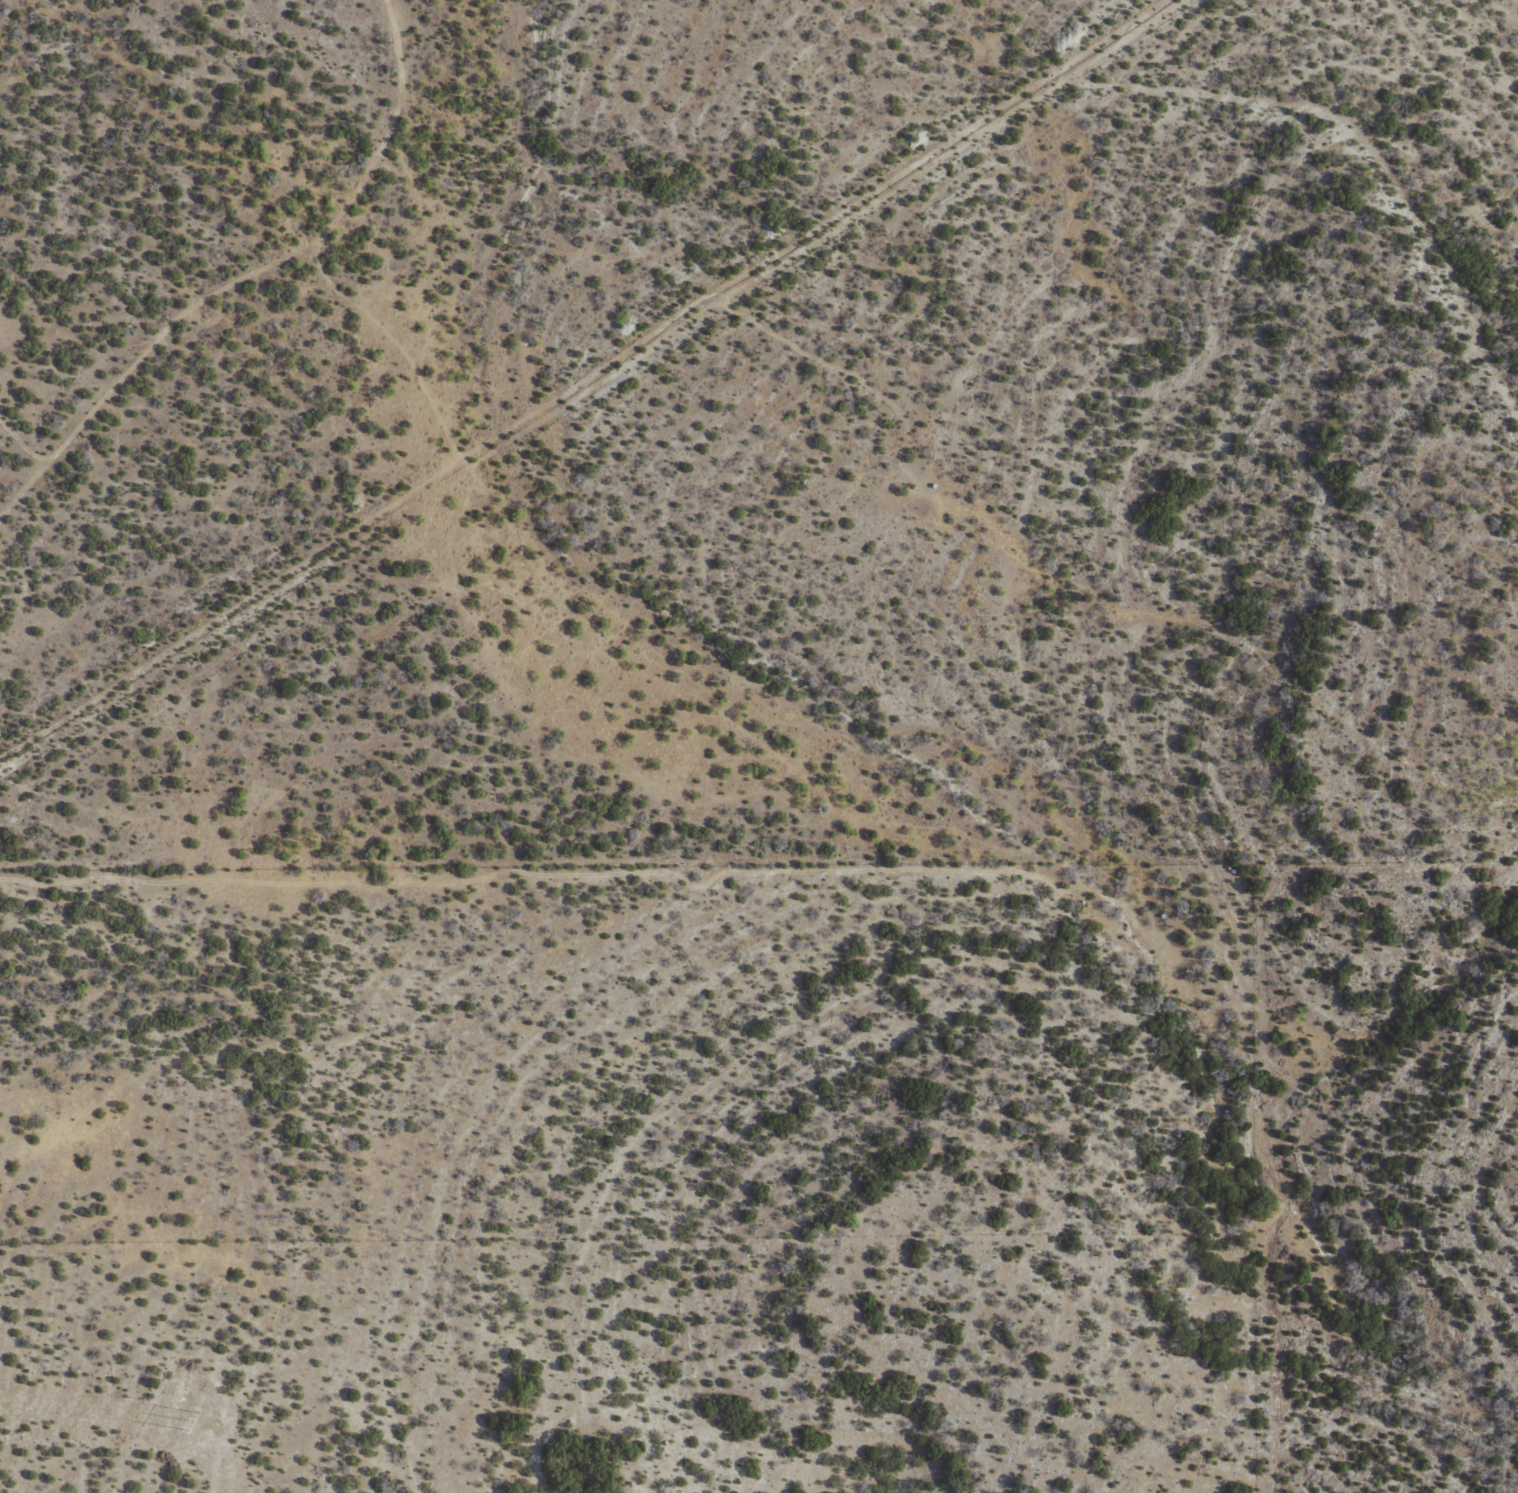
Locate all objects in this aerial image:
road: (497, 471)
power tower: (182, 1419)

